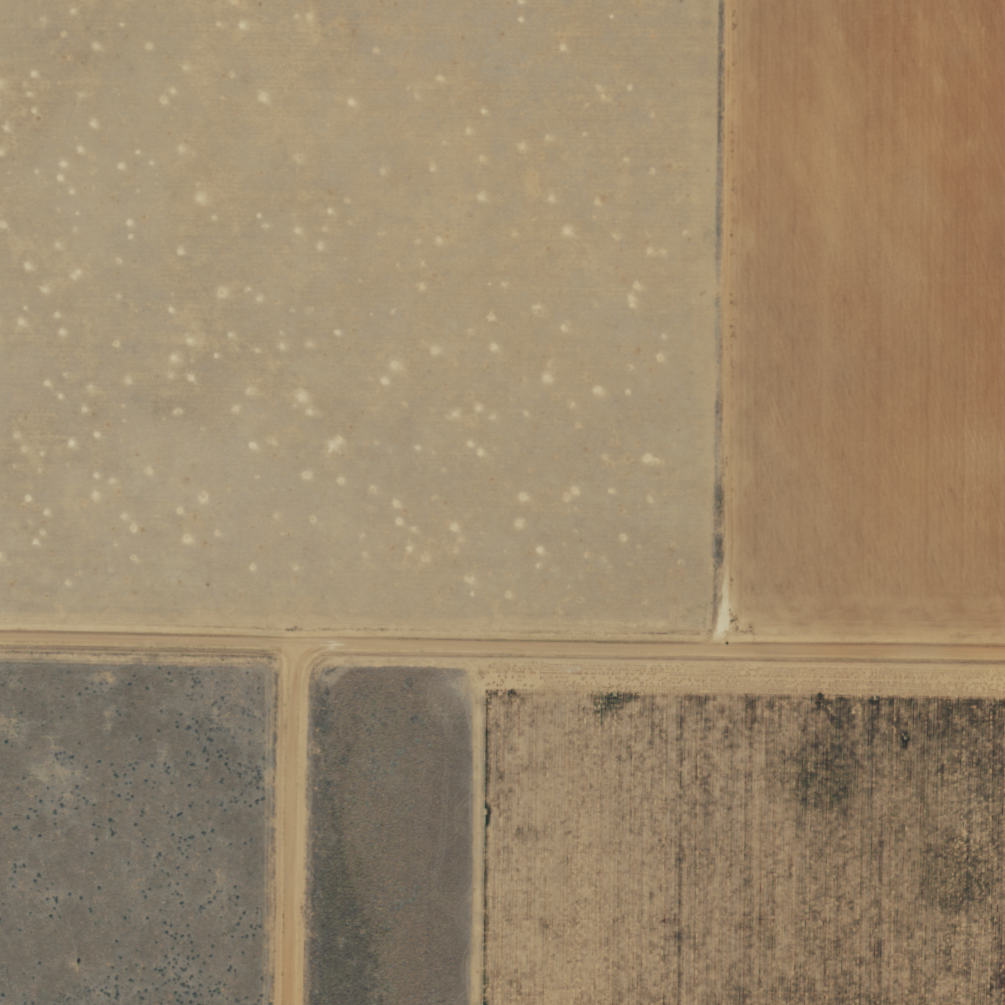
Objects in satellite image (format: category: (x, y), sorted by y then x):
road: (730, 328)
road: (502, 657)
road: (300, 831)

